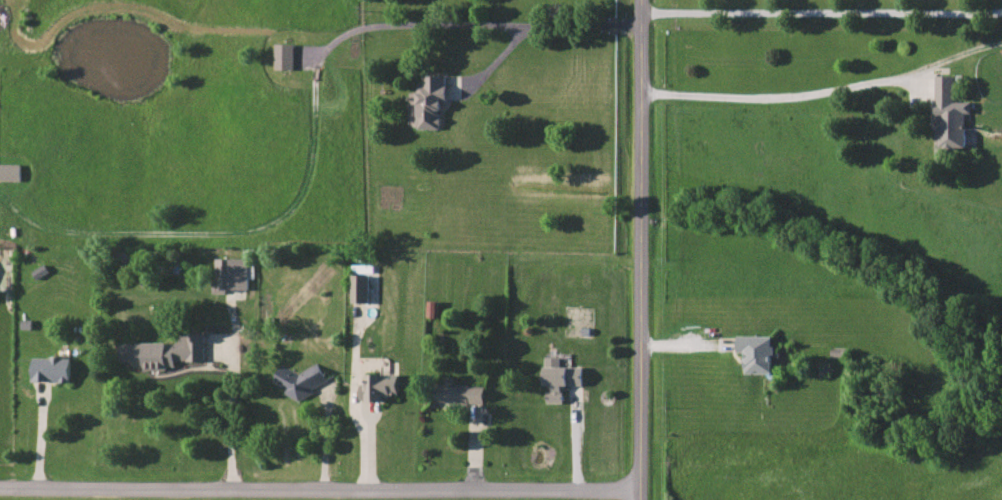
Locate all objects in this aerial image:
road: (825, 12)
road: (478, 25)
building: (285, 56)
road: (787, 91)
building: (431, 100)
building: (950, 114)
building: (10, 172)
road: (648, 250)
building: (231, 274)
building: (360, 288)
building: (166, 351)
building: (757, 353)
building: (52, 369)
building: (560, 378)
building: (300, 380)
building: (380, 386)
building: (461, 393)
road: (232, 415)
road: (41, 435)
road: (368, 436)
road: (325, 437)
road: (574, 439)
road: (324, 488)

